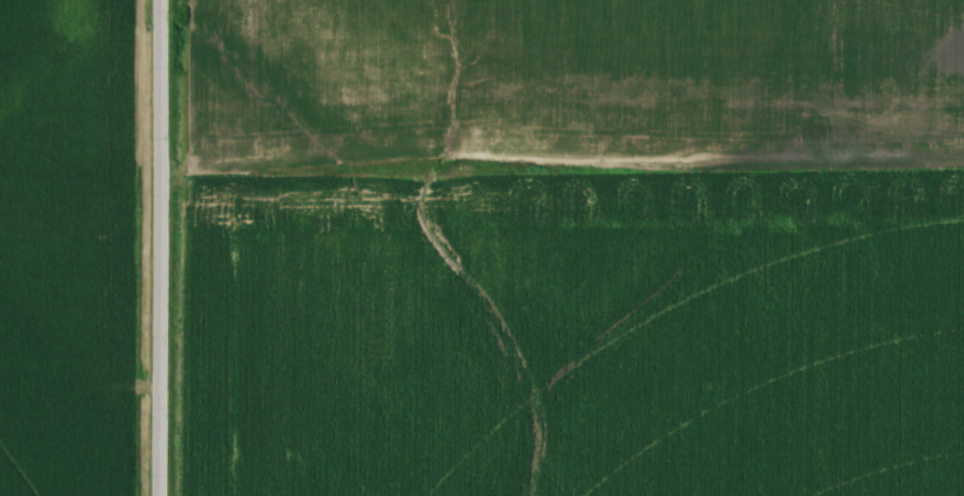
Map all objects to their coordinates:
road: (156, 248)

